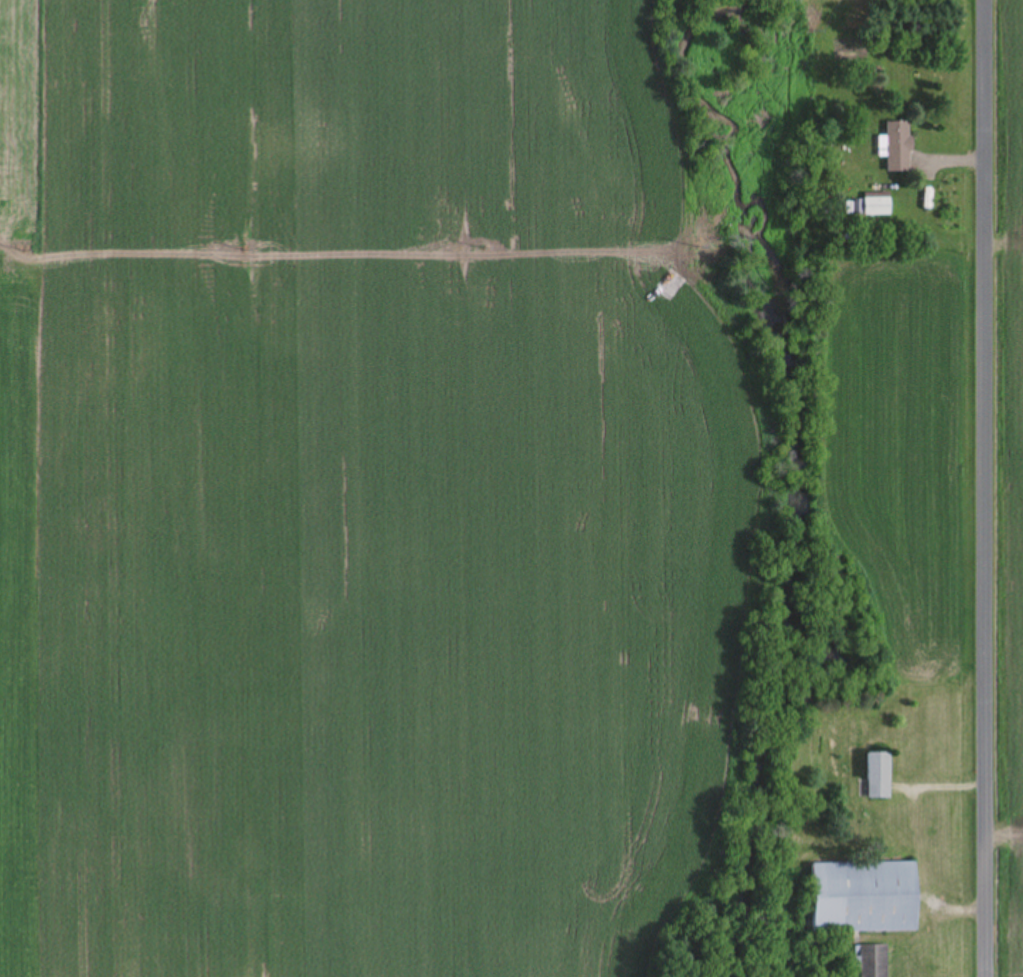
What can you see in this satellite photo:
building: (900, 146)
building: (878, 205)
river: (791, 270)
road: (987, 488)
crop: (1008, 488)
river: (797, 764)
building: (880, 776)
building: (867, 897)
building: (874, 961)

